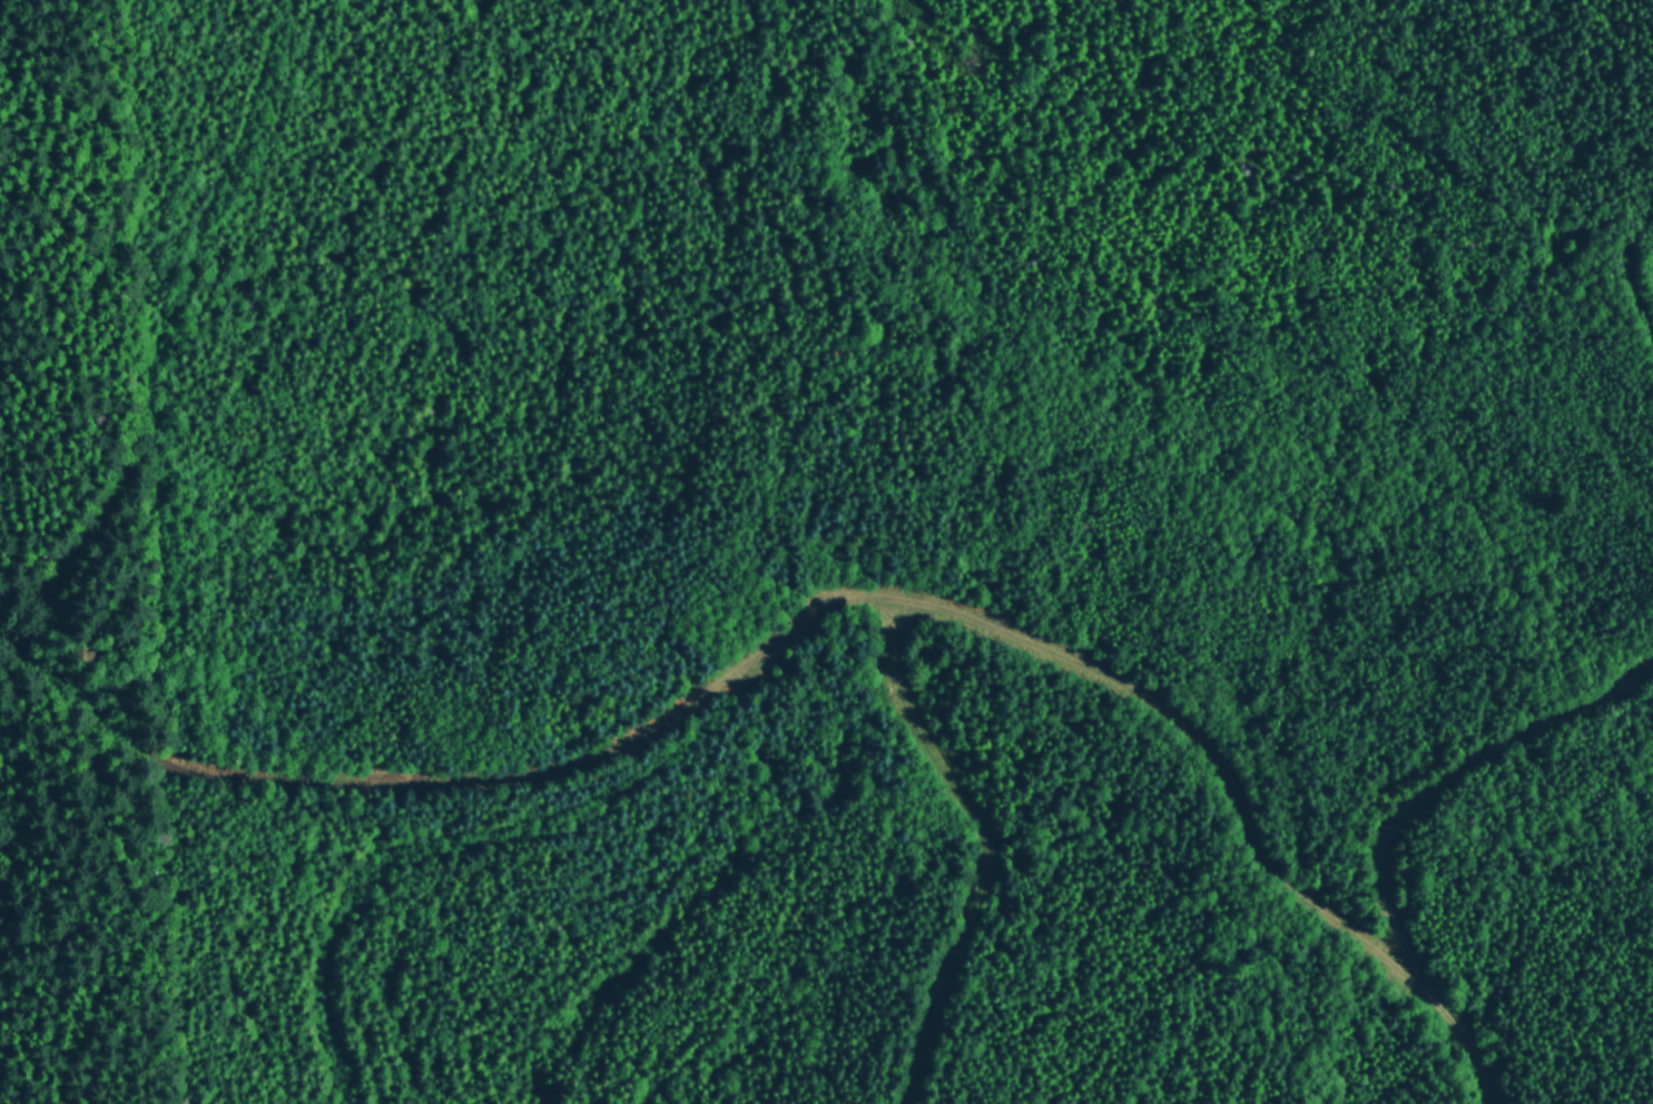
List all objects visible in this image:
road: (169, 327)
road: (813, 610)
road: (1445, 779)
road: (481, 837)
road: (985, 844)

